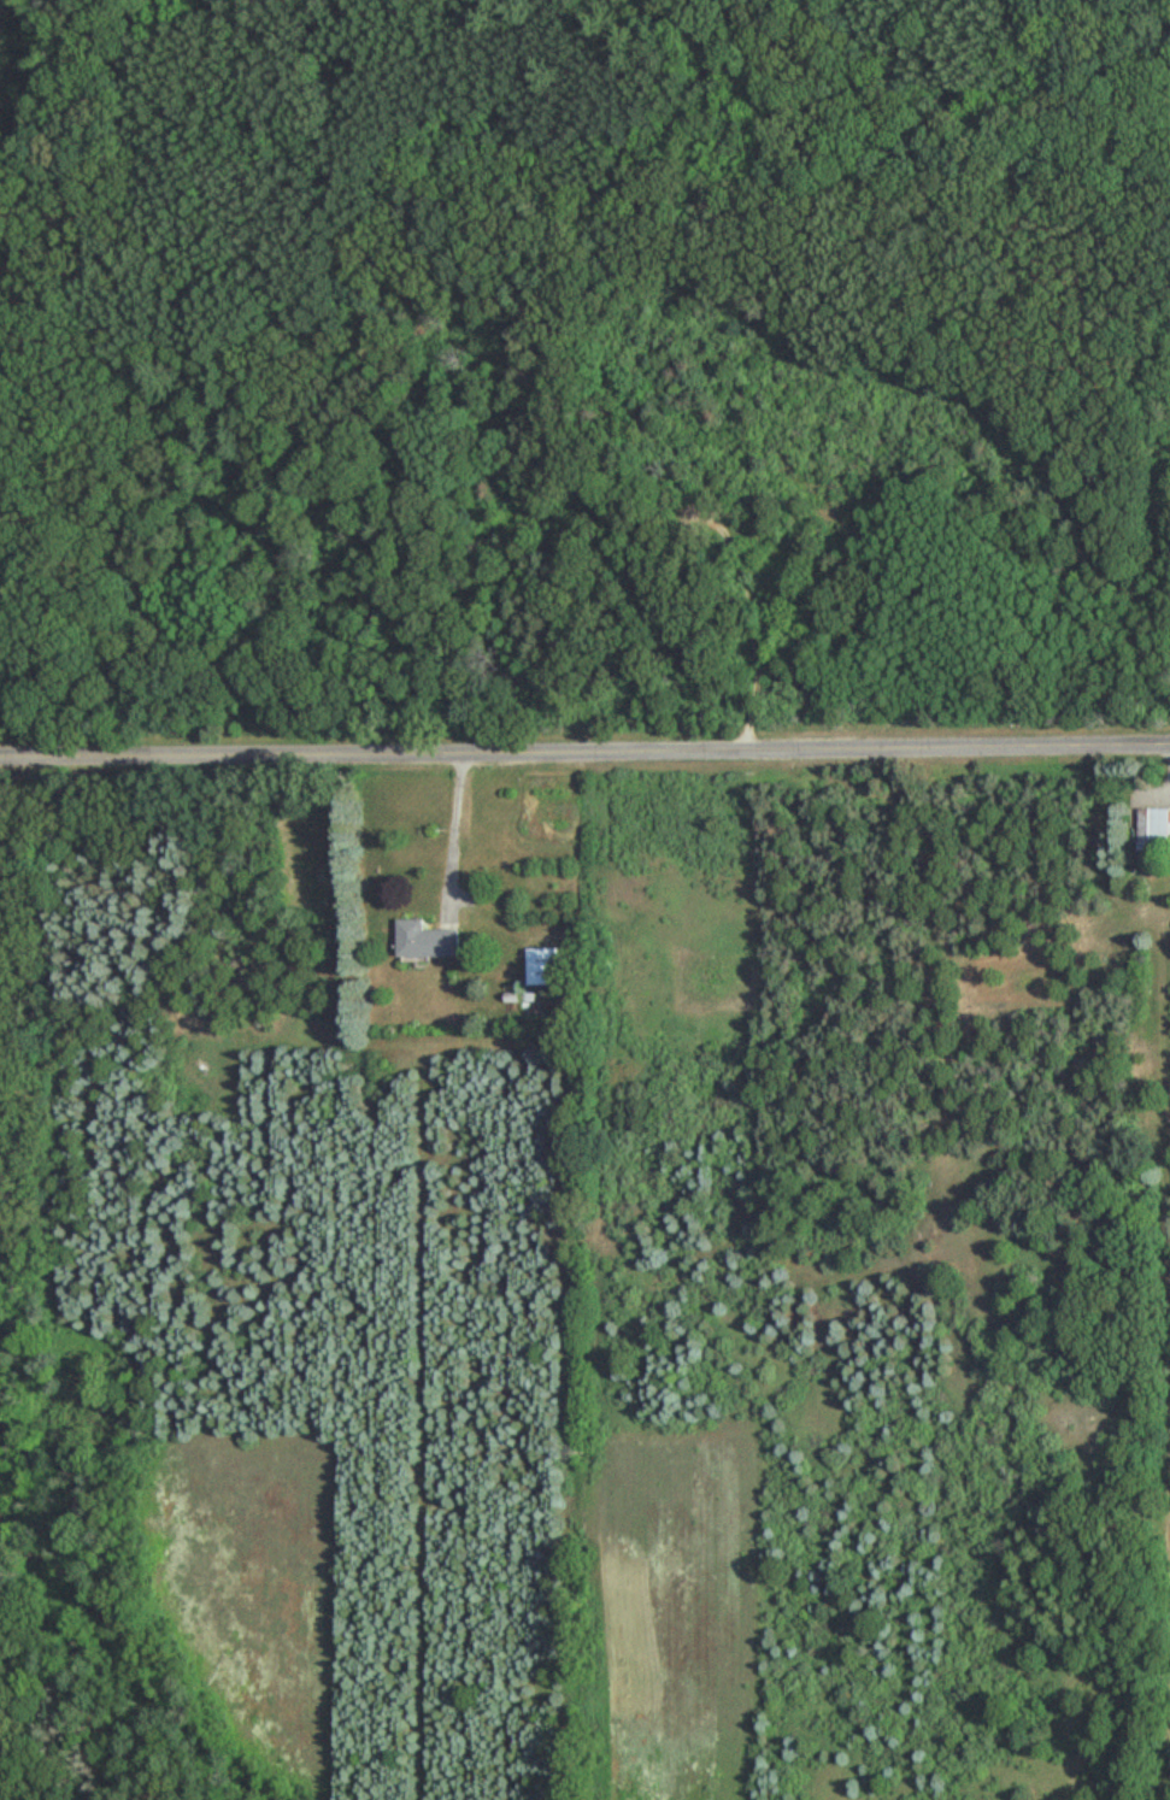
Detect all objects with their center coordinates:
parking lot: (704, 516)
road: (753, 637)
road: (584, 746)
building: (1154, 834)
building: (427, 943)
building: (543, 969)

